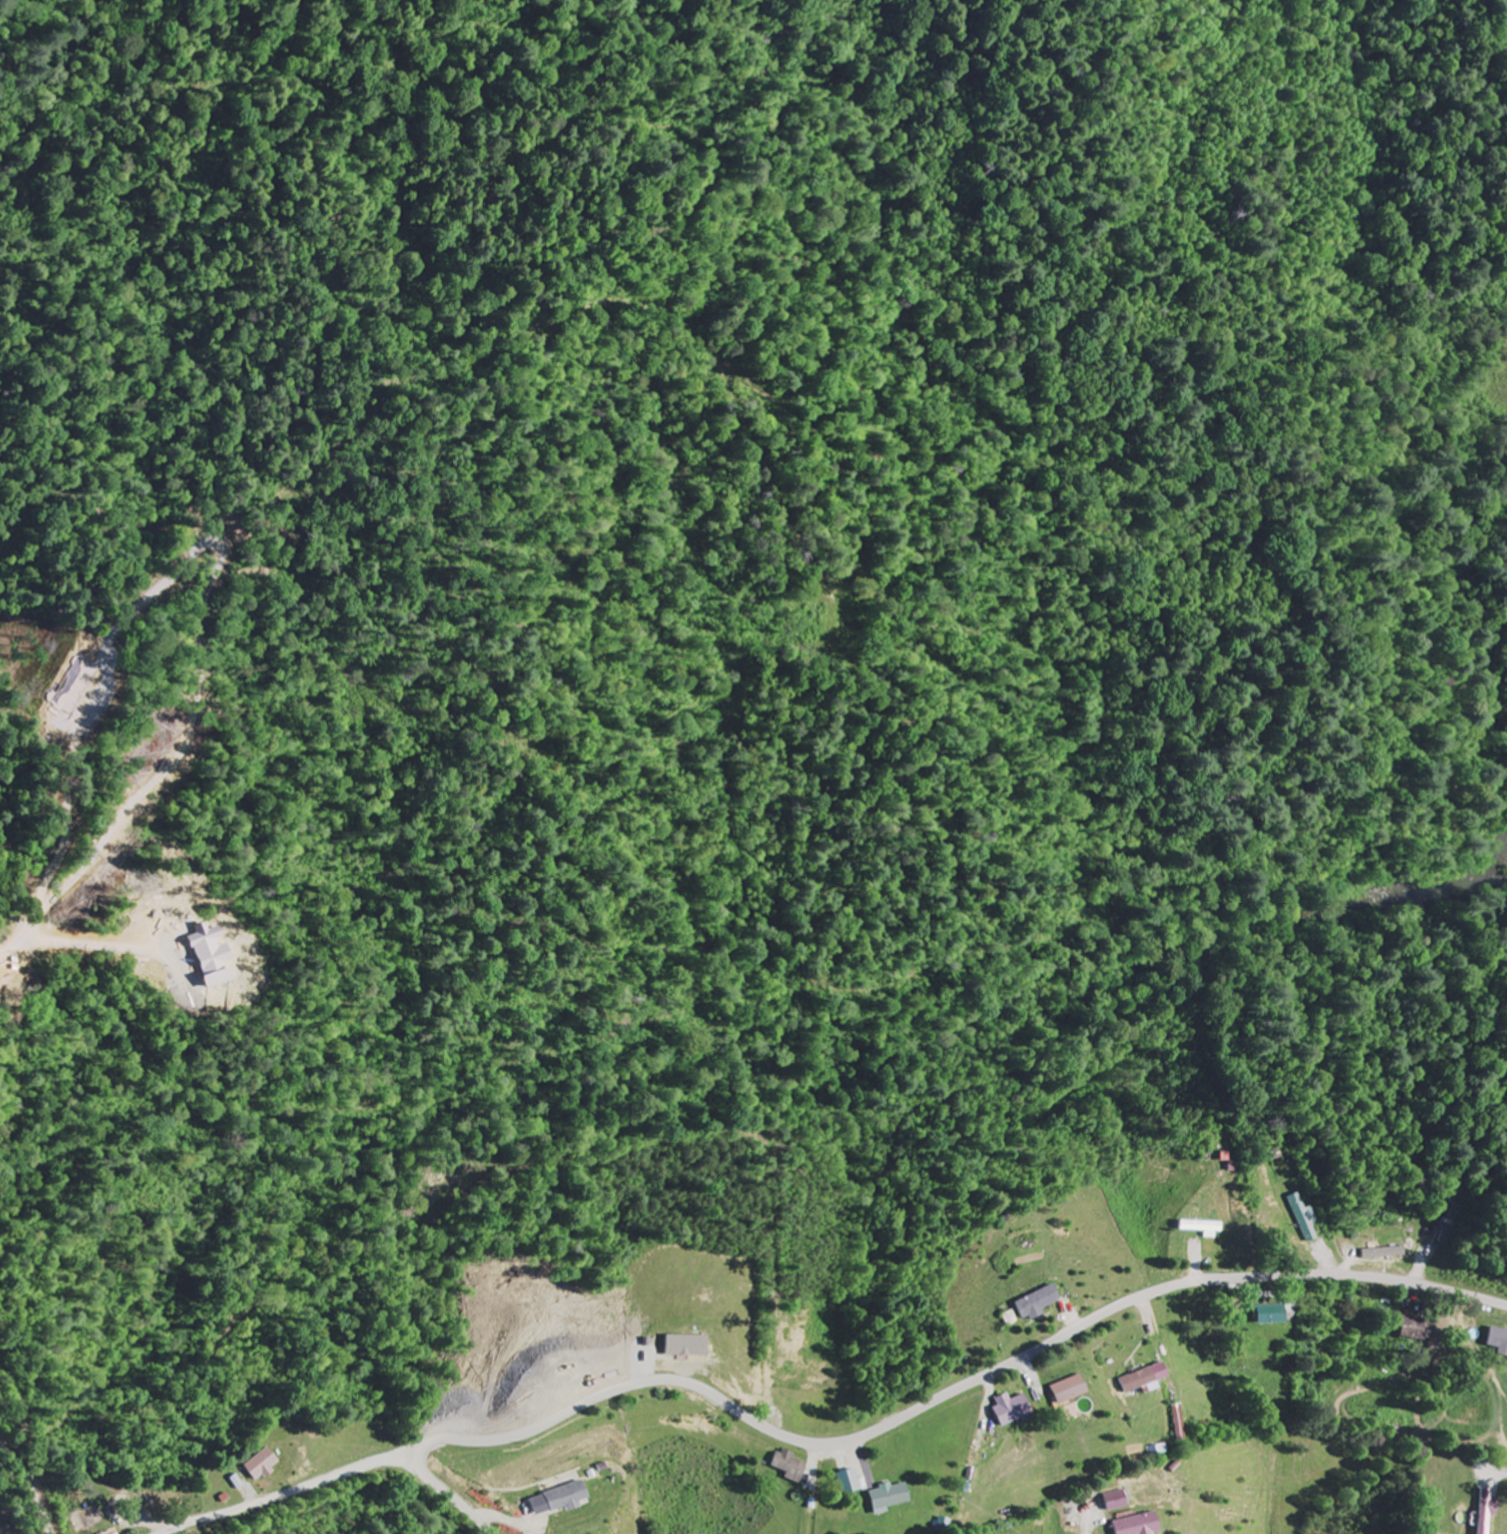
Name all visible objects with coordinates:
building: (1304, 1219)
building: (1208, 1229)
building: (1385, 1253)
building: (1040, 1303)
building: (1272, 1315)
building: (1011, 1319)
building: (1414, 1329)
building: (1498, 1341)
building: (688, 1346)
building: (1144, 1381)
road: (959, 1387)
building: (1070, 1390)
building: (1012, 1410)
building: (262, 1465)
building: (788, 1466)
building: (849, 1482)
road: (294, 1491)
road: (445, 1492)
building: (888, 1498)
building: (560, 1501)
building: (1117, 1501)
building: (1487, 1511)
building: (1140, 1525)

